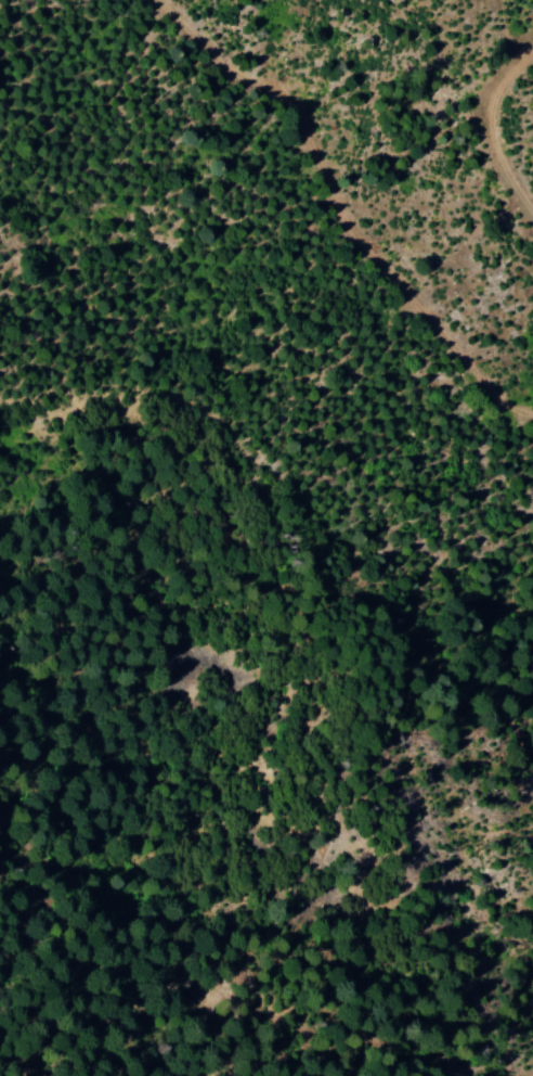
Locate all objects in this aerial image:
road: (486, 164)
road: (303, 202)

